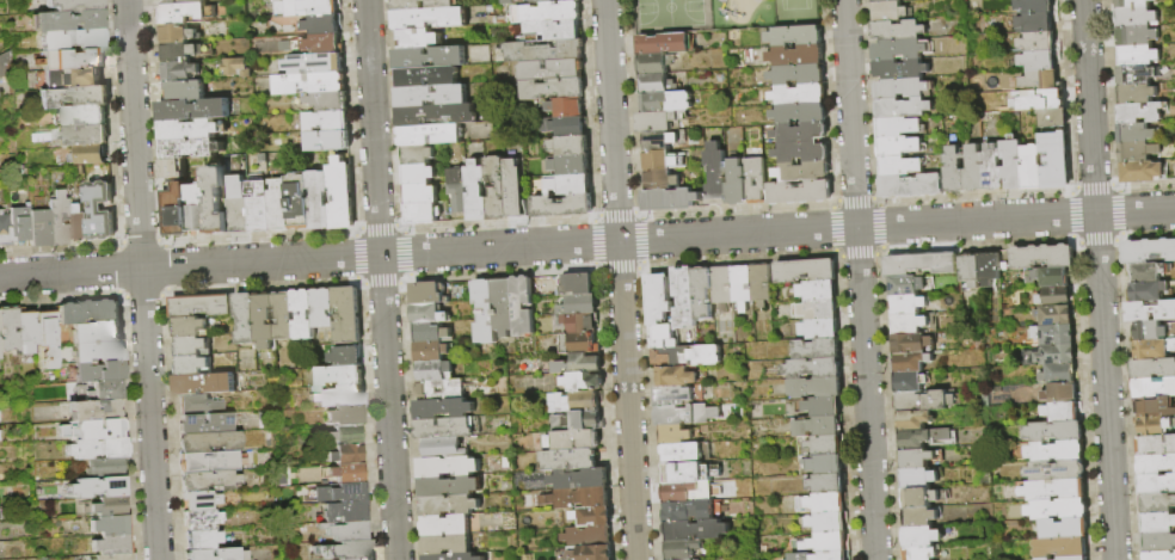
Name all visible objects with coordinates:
building: (226, 0)
building: (574, 0)
building: (540, 1)
building: (885, 1)
building: (180, 2)
building: (507, 2)
building: (1134, 4)
building: (73, 5)
building: (420, 5)
building: (1035, 6)
building: (307, 7)
building: (490, 10)
park: (792, 12)
building: (891, 12)
building: (184, 13)
building: (545, 13)
park: (668, 14)
park: (721, 14)
building: (1136, 17)
building: (427, 18)
building: (67, 20)
building: (491, 20)
building: (1036, 23)
building: (321, 25)
building: (554, 30)
building: (899, 31)
building: (177, 33)
building: (795, 37)
building: (1137, 37)
building: (72, 39)
building: (418, 39)
building: (1039, 42)
building: (324, 44)
building: (665, 45)
building: (900, 50)
building: (179, 51)
building: (545, 51)
building: (1138, 56)
building: (427, 57)
building: (796, 57)
building: (73, 59)
building: (1039, 61)
building: (5, 63)
building: (314, 63)
building: (654, 64)
building: (235, 68)
building: (900, 69)
building: (550, 70)
building: (178, 72)
building: (798, 75)
building: (1137, 75)
building: (425, 76)
building: (72, 78)
building: (1042, 81)
building: (309, 84)
building: (657, 84)
building: (553, 88)
building: (902, 88)
building: (186, 91)
building: (1138, 94)
building: (430, 96)
building: (800, 96)
building: (74, 97)
building: (1040, 100)
building: (328, 101)
building: (665, 103)
building: (567, 107)
building: (904, 109)
building: (192, 110)
building: (800, 113)
building: (1140, 113)
building: (436, 115)
building: (84, 116)
building: (1054, 118)
building: (327, 122)
building: (657, 123)
building: (564, 127)
building: (899, 128)
building: (190, 130)
building: (478, 133)
building: (801, 134)
building: (1136, 134)
building: (430, 135)
building: (84, 136)
building: (41, 137)
building: (327, 141)
building: (660, 142)
building: (570, 146)
building: (899, 147)
building: (190, 148)
building: (1138, 153)
building: (417, 154)
building: (802, 154)
building: (90, 155)
building: (262, 158)
building: (659, 161)
building: (1056, 161)
building: (1014, 164)
building: (568, 166)
building: (902, 167)
building: (172, 168)
building: (1033, 168)
building: (993, 170)
building: (79, 171)
building: (955, 171)
building: (976, 171)
building: (804, 172)
building: (1142, 173)
building: (418, 174)
building: (716, 176)
building: (660, 180)
building: (755, 180)
building: (737, 184)
building: (568, 185)
building: (912, 186)
building: (497, 189)
building: (513, 189)
building: (459, 190)
building: (476, 192)
building: (419, 193)
building: (800, 193)
building: (340, 195)
building: (215, 201)
building: (319, 201)
building: (670, 201)
building: (299, 202)
building: (258, 207)
building: (278, 207)
building: (559, 207)
building: (196, 208)
building: (441, 209)
building: (238, 210)
building: (99, 211)
building: (176, 214)
building: (420, 214)
building: (59, 219)
building: (19, 223)
building: (78, 223)
building: (39, 228)
building: (5, 230)
road: (586, 242)
building: (1149, 252)
building: (1044, 258)
building: (1005, 260)
building: (921, 264)
building: (989, 269)
building: (971, 271)
building: (806, 272)
building: (1149, 272)
building: (1048, 278)
road: (141, 279)
road: (381, 279)
road: (620, 279)
road: (859, 279)
road: (1099, 279)
building: (762, 284)
building: (576, 285)
building: (908, 287)
building: (724, 288)
building: (743, 288)
building: (818, 291)
building: (427, 293)
building: (1149, 293)
building: (703, 294)
building: (685, 297)
building: (1056, 297)
building: (659, 299)
building: (582, 304)
building: (201, 306)
building: (504, 306)
building: (522, 306)
building: (908, 306)
building: (322, 308)
building: (485, 310)
building: (562, 310)
building: (817, 310)
building: (90, 312)
building: (1151, 312)
building: (429, 314)
building: (283, 315)
building: (302, 315)
building: (346, 315)
building: (1054, 315)
building: (246, 319)
building: (265, 320)
building: (577, 322)
building: (910, 325)
building: (190, 327)
building: (8, 330)
building: (25, 330)
building: (816, 330)
building: (97, 332)
building: (1152, 332)
building: (430, 333)
building: (1053, 334)
building: (47, 337)
building: (663, 337)
building: (579, 344)
building: (912, 344)
building: (191, 346)
building: (817, 350)
building: (1154, 350)
building: (98, 351)
building: (431, 351)
building: (345, 356)
building: (1052, 356)
building: (687, 357)
building: (911, 363)
building: (579, 364)
building: (192, 365)
building: (813, 369)
building: (1154, 369)
building: (99, 370)
building: (435, 371)
building: (1060, 374)
building: (339, 376)
building: (677, 377)
building: (583, 382)
building: (910, 383)
building: (205, 384)
building: (817, 388)
building: (1154, 388)
building: (439, 389)
building: (104, 390)
building: (1063, 394)
building: (338, 396)
building: (673, 396)
building: (555, 400)
building: (583, 401)
building: (924, 401)
building: (193, 405)
building: (824, 407)
building: (1155, 407)
building: (442, 408)
building: (94, 410)
building: (1063, 412)
building: (345, 414)
building: (685, 416)
building: (915, 420)
building: (586, 421)
building: (204, 423)
building: (560, 423)
building: (1157, 426)
building: (819, 427)
building: (92, 429)
building: (447, 429)
building: (1056, 432)
building: (344, 435)
building: (676, 436)
building: (927, 439)
building: (572, 441)
building: (208, 442)
building: (826, 447)
building: (1156, 447)
building: (97, 448)
building: (443, 448)
building: (1057, 453)
building: (346, 454)
building: (683, 454)
building: (568, 460)
building: (917, 460)
building: (209, 461)
building: (447, 466)
building: (826, 466)
building: (1157, 466)
building: (106, 467)
building: (347, 472)
building: (1057, 472)
building: (689, 474)
building: (579, 479)
building: (919, 479)
building: (208, 480)
building: (828, 485)
building: (1157, 485)
building: (97, 486)
building: (448, 486)
building: (1054, 491)
building: (347, 492)
building: (679, 492)
building: (580, 498)
building: (921, 498)
building: (199, 500)
building: (543, 500)
building: (824, 504)
building: (448, 505)
building: (1157, 505)
building: (110, 506)
building: (1059, 510)
building: (344, 511)
building: (688, 512)
building: (590, 517)
building: (919, 517)
building: (201, 519)
building: (830, 523)
building: (1158, 524)
building: (110, 525)
building: (445, 525)
building: (1065, 529)
building: (344, 530)
building: (696, 531)
building: (587, 537)
building: (922, 537)
building: (202, 539)
building: (823, 543)
building: (1159, 543)
building: (111, 544)
building: (447, 544)
building: (522, 546)
building: (1062, 548)
building: (351, 549)
building: (683, 549)
building: (321, 550)
building: (591, 553)
building: (921, 553)
building: (217, 554)
building: (115, 556)
building: (453, 556)
building: (823, 556)
building: (1159, 556)
building: (1077, 558)
building: (361, 559)
building: (1046, 559)

